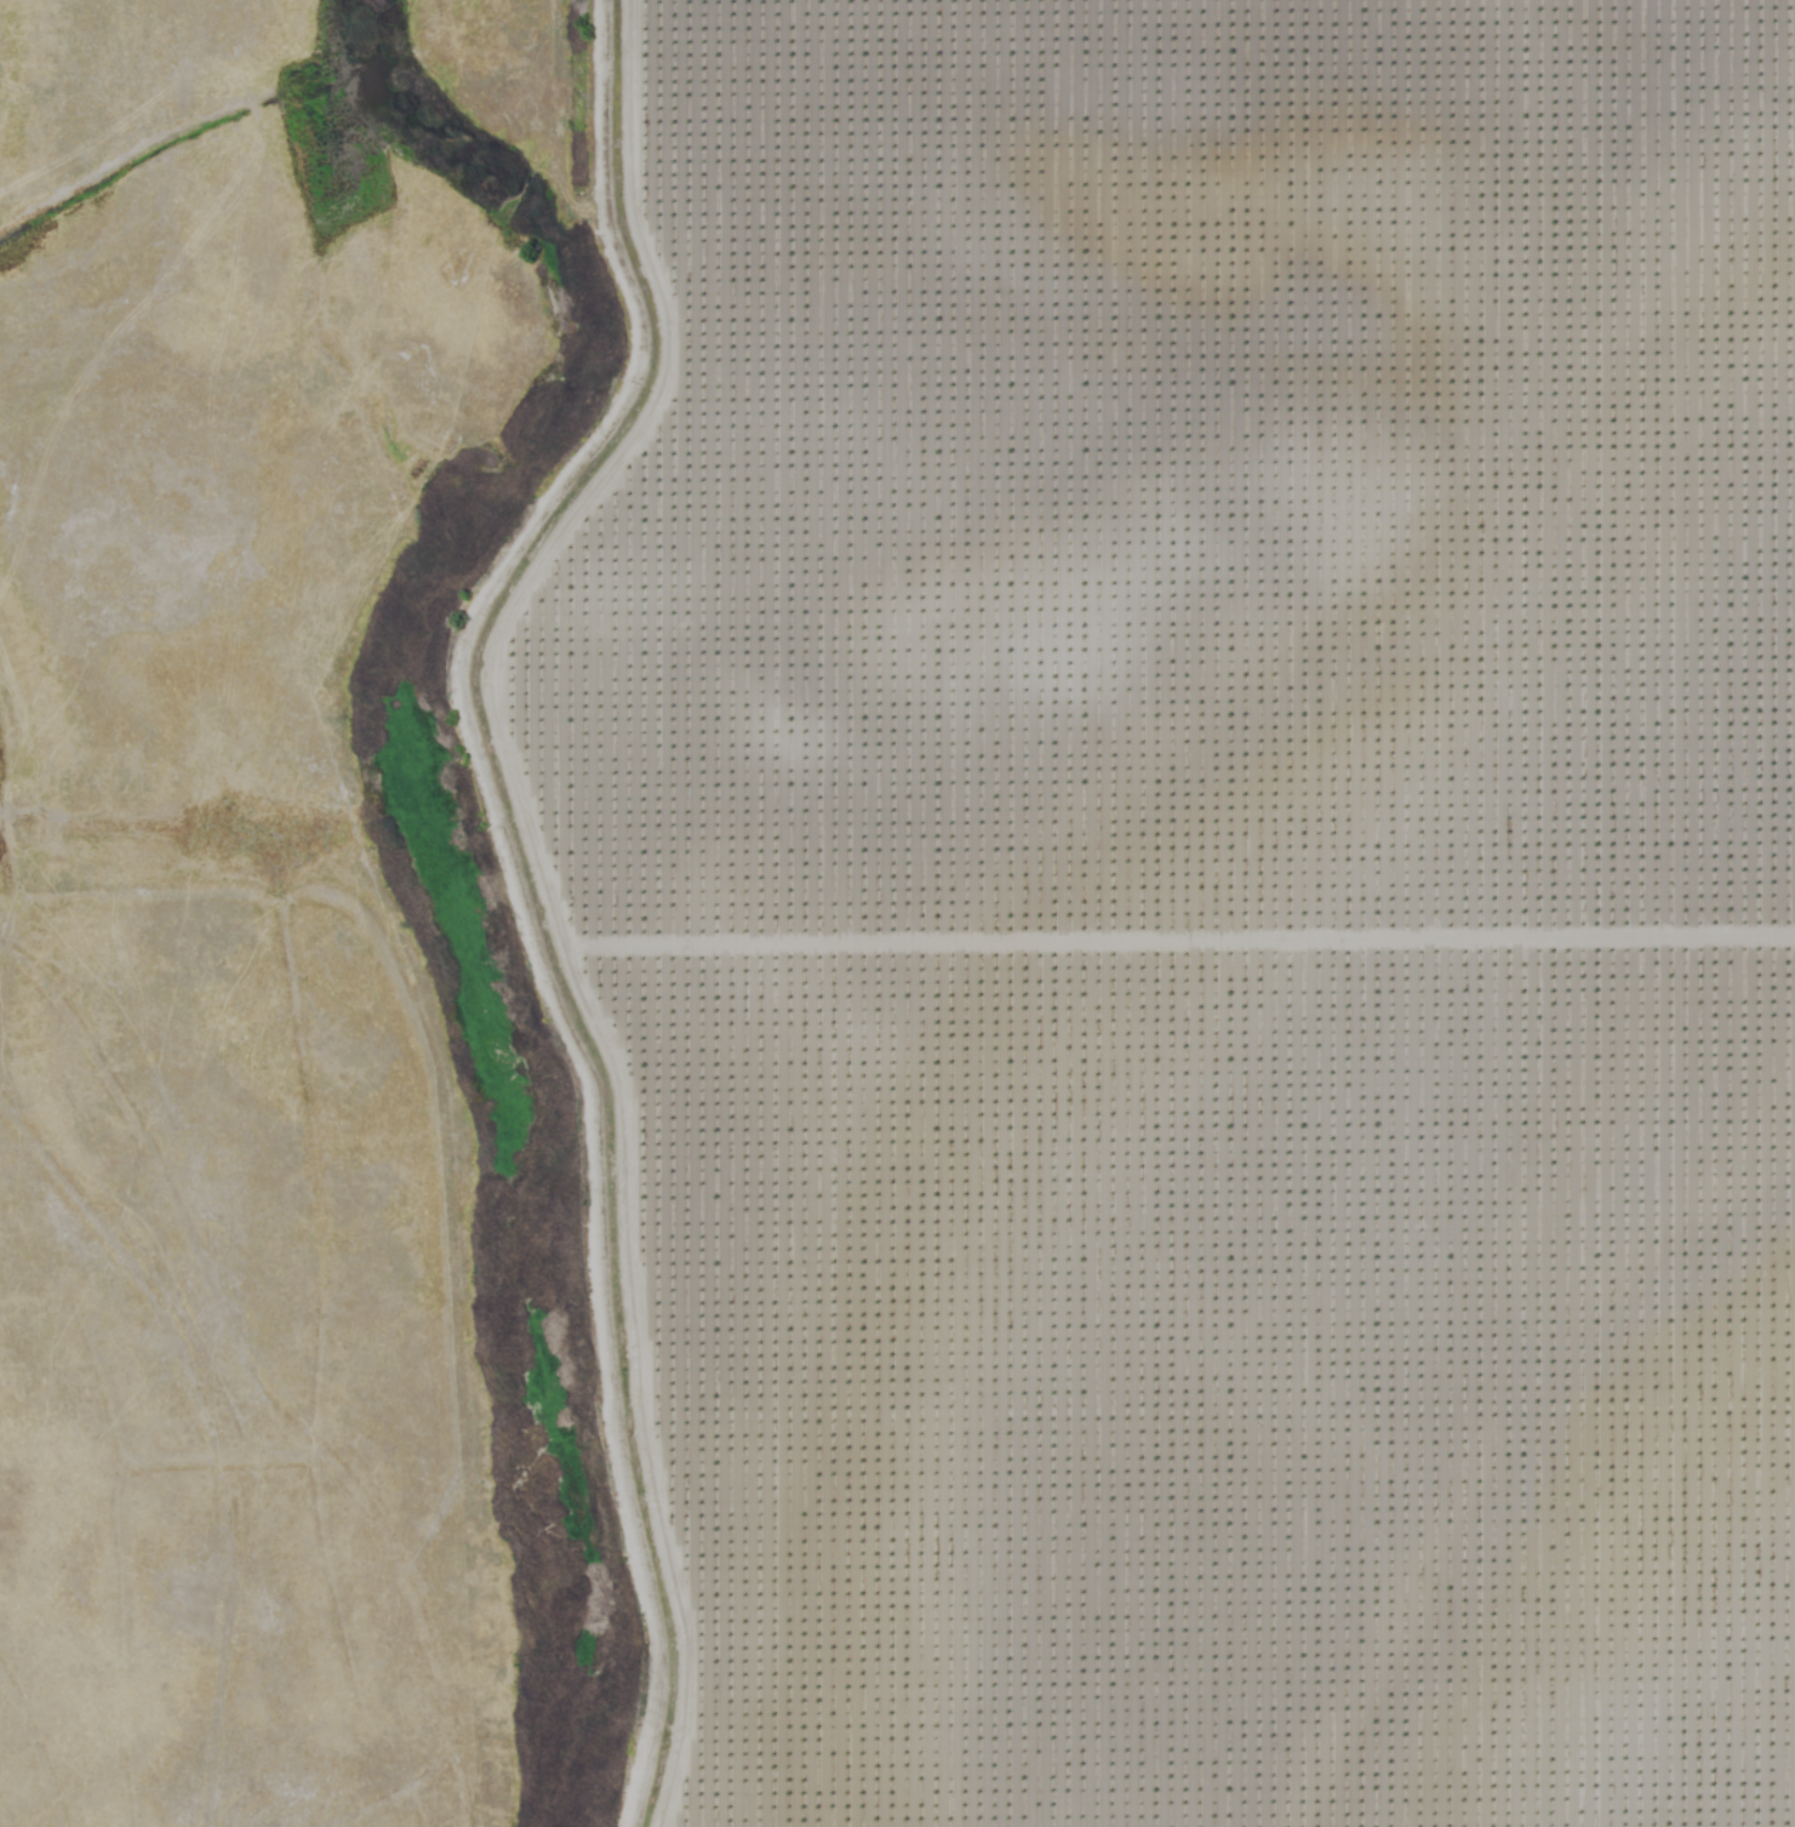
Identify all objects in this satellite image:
crop: (1201, 904)
road: (675, 913)
road: (1522, 1561)

